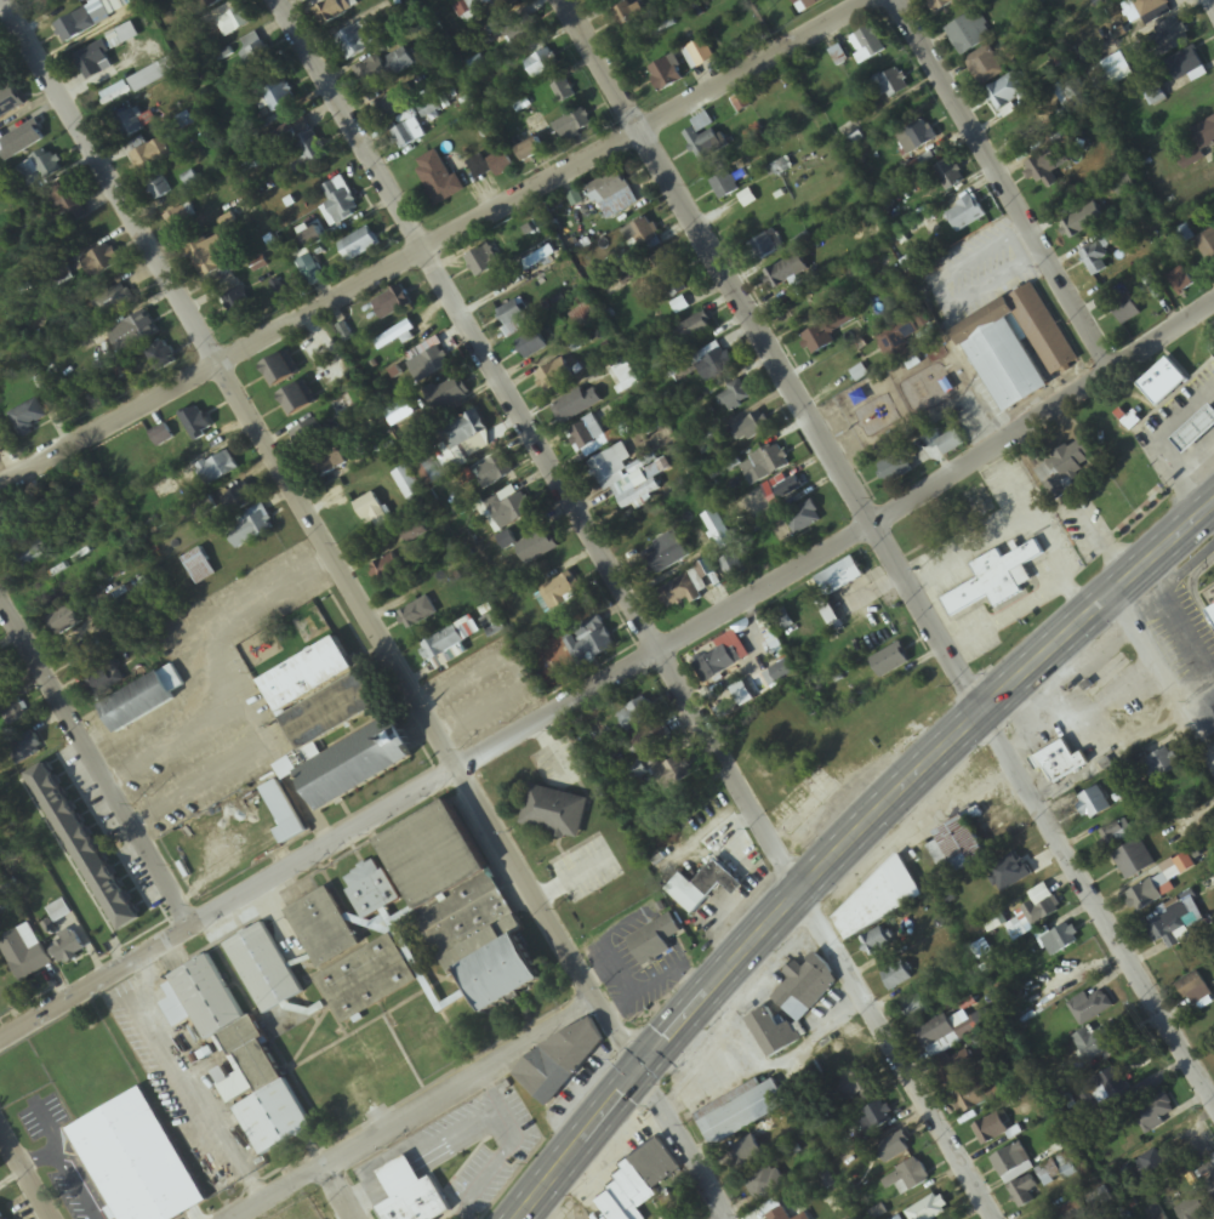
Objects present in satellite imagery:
building: (212, 2)
building: (807, 5)
building: (941, 5)
building: (336, 10)
building: (1152, 10)
building: (235, 23)
building: (81, 24)
building: (521, 30)
building: (969, 34)
building: (121, 36)
building: (1168, 40)
building: (355, 41)
building: (867, 46)
building: (253, 52)
building: (699, 56)
building: (92, 61)
building: (545, 65)
building: (1185, 65)
building: (985, 68)
building: (384, 69)
building: (666, 75)
building: (153, 76)
building: (889, 86)
building: (563, 93)
building: (115, 95)
building: (1008, 96)
building: (278, 97)
building: (1076, 97)
building: (10, 103)
building: (388, 108)
building: (131, 125)
building: (574, 127)
building: (1204, 135)
building: (407, 136)
building: (919, 136)
building: (705, 138)
building: (22, 142)
building: (308, 149)
building: (530, 153)
building: (150, 156)
building: (492, 165)
building: (42, 166)
building: (1045, 167)
building: (948, 176)
building: (438, 178)
road: (1003, 182)
building: (724, 187)
building: (159, 189)
building: (612, 196)
building: (340, 204)
building: (67, 205)
building: (965, 216)
building: (1083, 222)
building: (643, 238)
building: (313, 239)
road: (423, 240)
building: (361, 244)
building: (765, 247)
building: (211, 258)
building: (1096, 258)
building: (538, 261)
building: (101, 263)
building: (481, 264)
building: (787, 273)
building: (669, 279)
building: (1180, 283)
building: (114, 300)
building: (236, 304)
building: (391, 304)
building: (1124, 309)
building: (513, 314)
building: (142, 329)
building: (693, 331)
building: (897, 335)
building: (397, 340)
building: (820, 341)
building: (531, 347)
building: (1016, 349)
building: (427, 364)
building: (717, 365)
building: (279, 371)
building: (626, 375)
building: (555, 378)
building: (1163, 383)
building: (448, 394)
building: (734, 398)
building: (296, 400)
building: (572, 408)
building: (28, 417)
building: (195, 423)
building: (751, 428)
building: (463, 431)
building: (309, 433)
building: (1196, 433)
building: (161, 435)
building: (587, 435)
building: (2, 440)
building: (950, 443)
building: (329, 461)
building: (611, 465)
building: (769, 465)
building: (896, 467)
building: (1065, 467)
building: (218, 468)
building: (495, 472)
building: (407, 482)
building: (634, 492)
building: (238, 500)
building: (509, 507)
building: (374, 514)
building: (803, 519)
building: (250, 528)
building: (718, 529)
road: (845, 545)
road: (884, 546)
building: (537, 548)
building: (668, 554)
building: (32, 556)
building: (199, 566)
building: (387, 569)
building: (840, 577)
building: (996, 579)
building: (562, 591)
building: (678, 593)
road: (638, 608)
road: (369, 609)
building: (1212, 613)
building: (417, 614)
building: (831, 616)
building: (63, 621)
building: (591, 643)
building: (444, 646)
building: (85, 653)
building: (890, 661)
building: (717, 662)
road: (754, 662)
building: (308, 676)
building: (783, 676)
road: (1163, 678)
building: (103, 679)
building: (1, 683)
building: (142, 700)
building: (1213, 707)
building: (331, 712)
building: (638, 713)
building: (12, 716)
building: (648, 739)
building: (866, 742)
building: (23, 745)
building: (1060, 763)
building: (357, 764)
road: (93, 765)
building: (1161, 765)
building: (673, 774)
building: (1093, 804)
building: (284, 813)
building: (554, 813)
building: (1116, 834)
road: (850, 843)
building: (82, 848)
building: (957, 848)
building: (433, 854)
building: (1134, 860)
building: (702, 888)
building: (371, 889)
building: (147, 890)
building: (1151, 893)
building: (884, 898)
road: (230, 901)
building: (1033, 918)
building: (1178, 925)
building: (324, 929)
building: (1060, 940)
building: (654, 941)
building: (876, 942)
building: (68, 947)
building: (24, 953)
building: (264, 969)
building: (431, 973)
building: (899, 975)
building: (805, 987)
building: (1193, 990)
building: (917, 1008)
building: (1089, 1008)
building: (773, 1033)
building: (937, 1036)
building: (1095, 1043)
building: (238, 1058)
building: (564, 1059)
traffic signals: (644, 1070)
building: (956, 1070)
building: (857, 1087)
building: (978, 1094)
road: (418, 1109)
building: (740, 1112)
building: (1155, 1112)
building: (877, 1116)
building: (991, 1130)
building: (891, 1150)
building: (743, 1155)
building: (137, 1161)
building: (906, 1178)
road: (23, 1179)
building: (640, 1181)
building: (764, 1183)
building: (1025, 1192)
building: (1201, 1197)
building: (1100, 1200)
building: (416, 1204)
building: (672, 1207)
building: (929, 1209)
building: (1155, 1213)
building: (1, 1214)
building: (779, 1214)
building: (1073, 1214)
road: (728, 1217)
building: (803, 1217)

